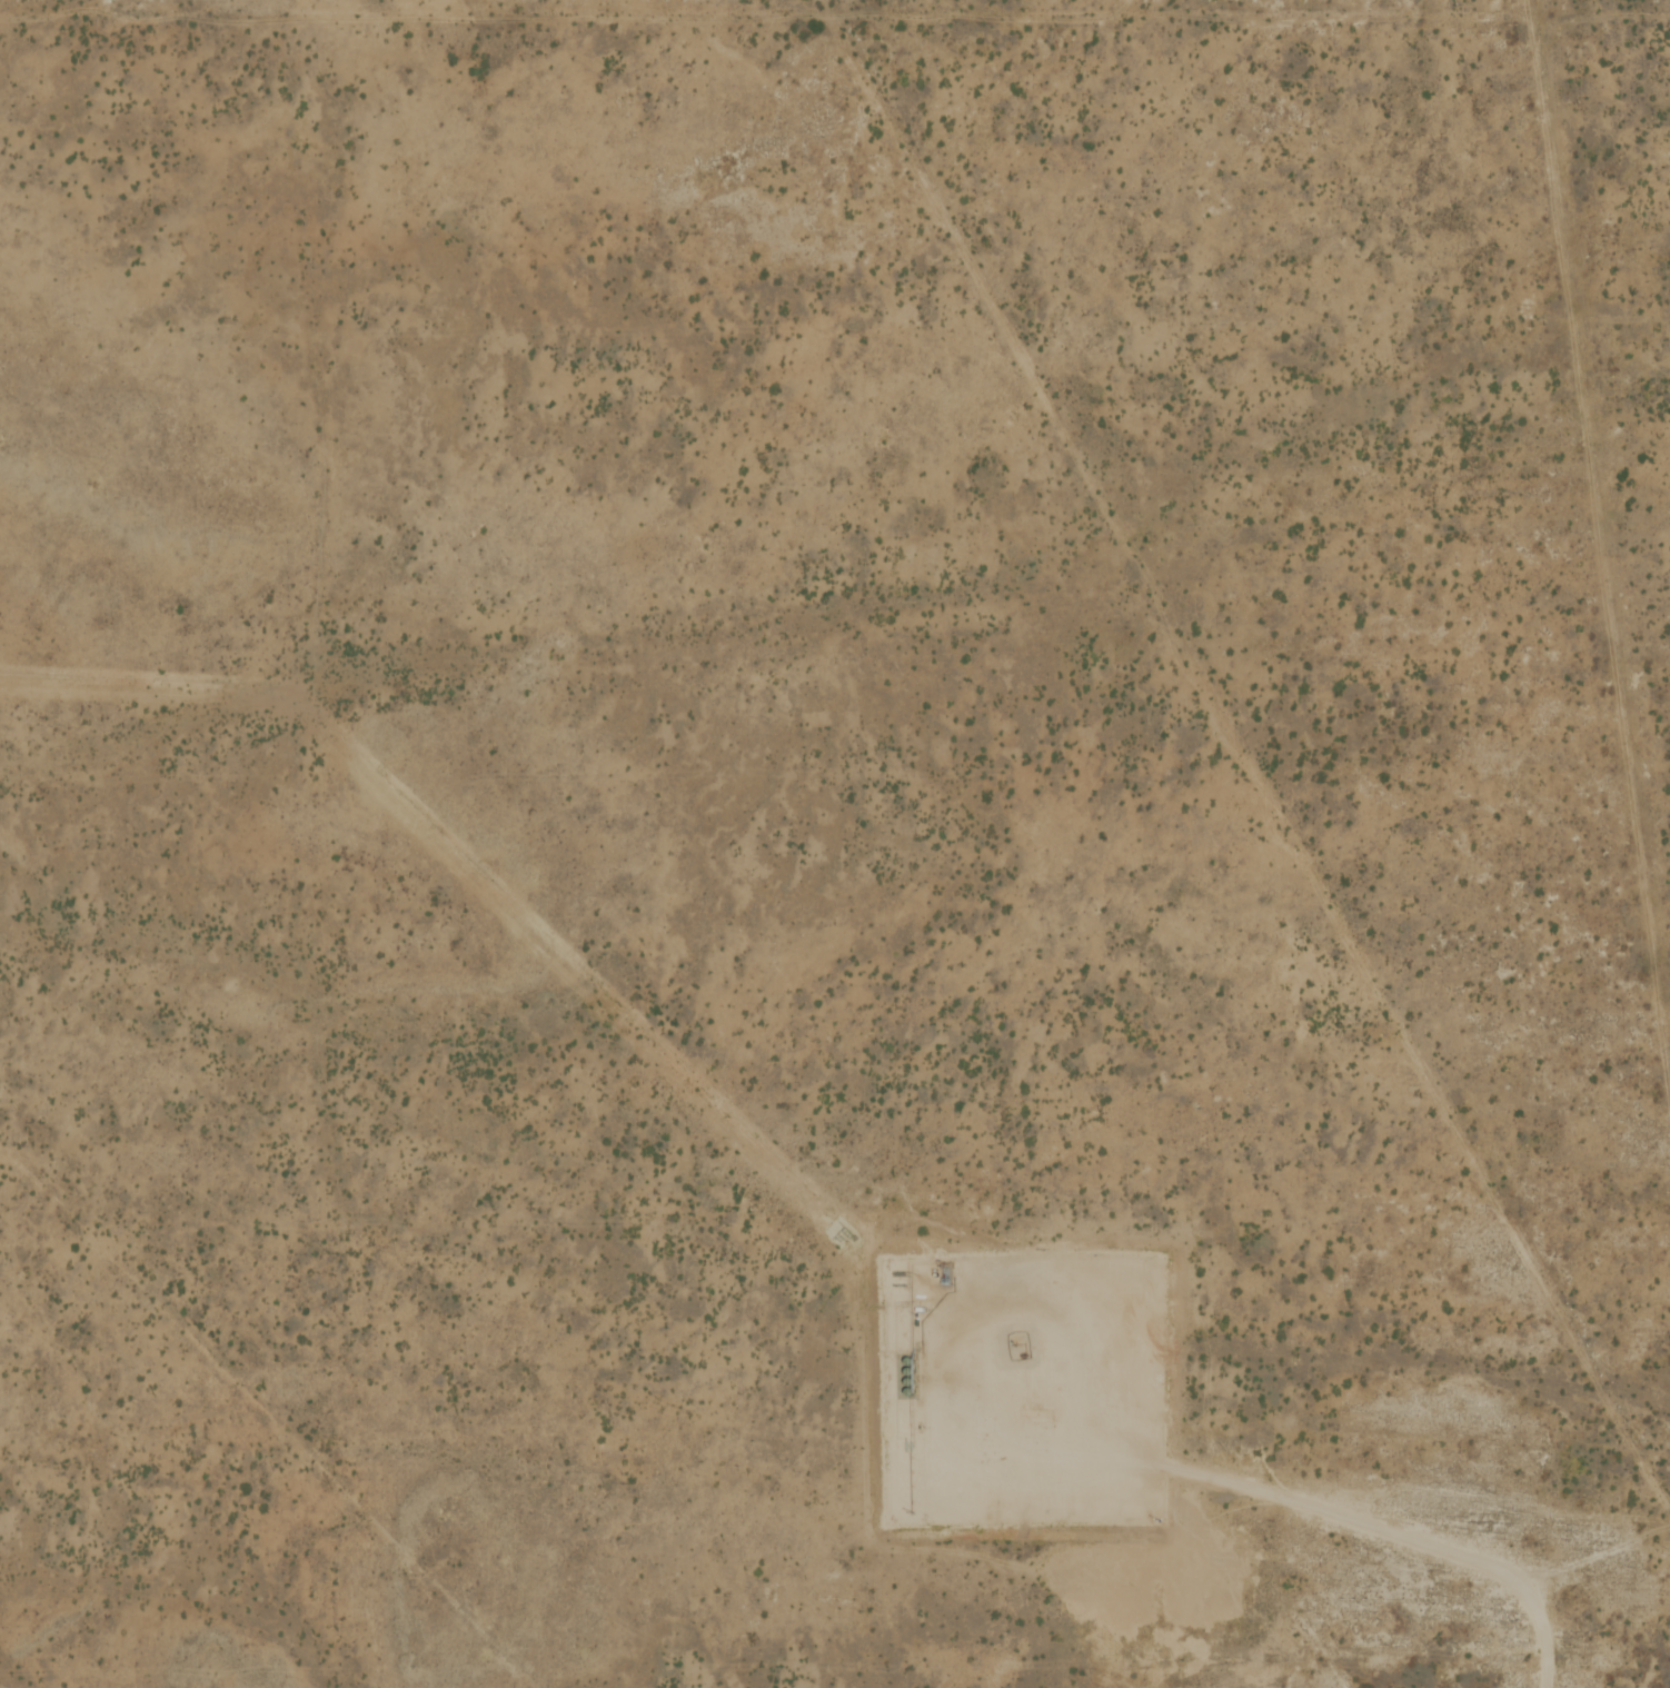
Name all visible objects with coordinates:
road: (1378, 1539)

